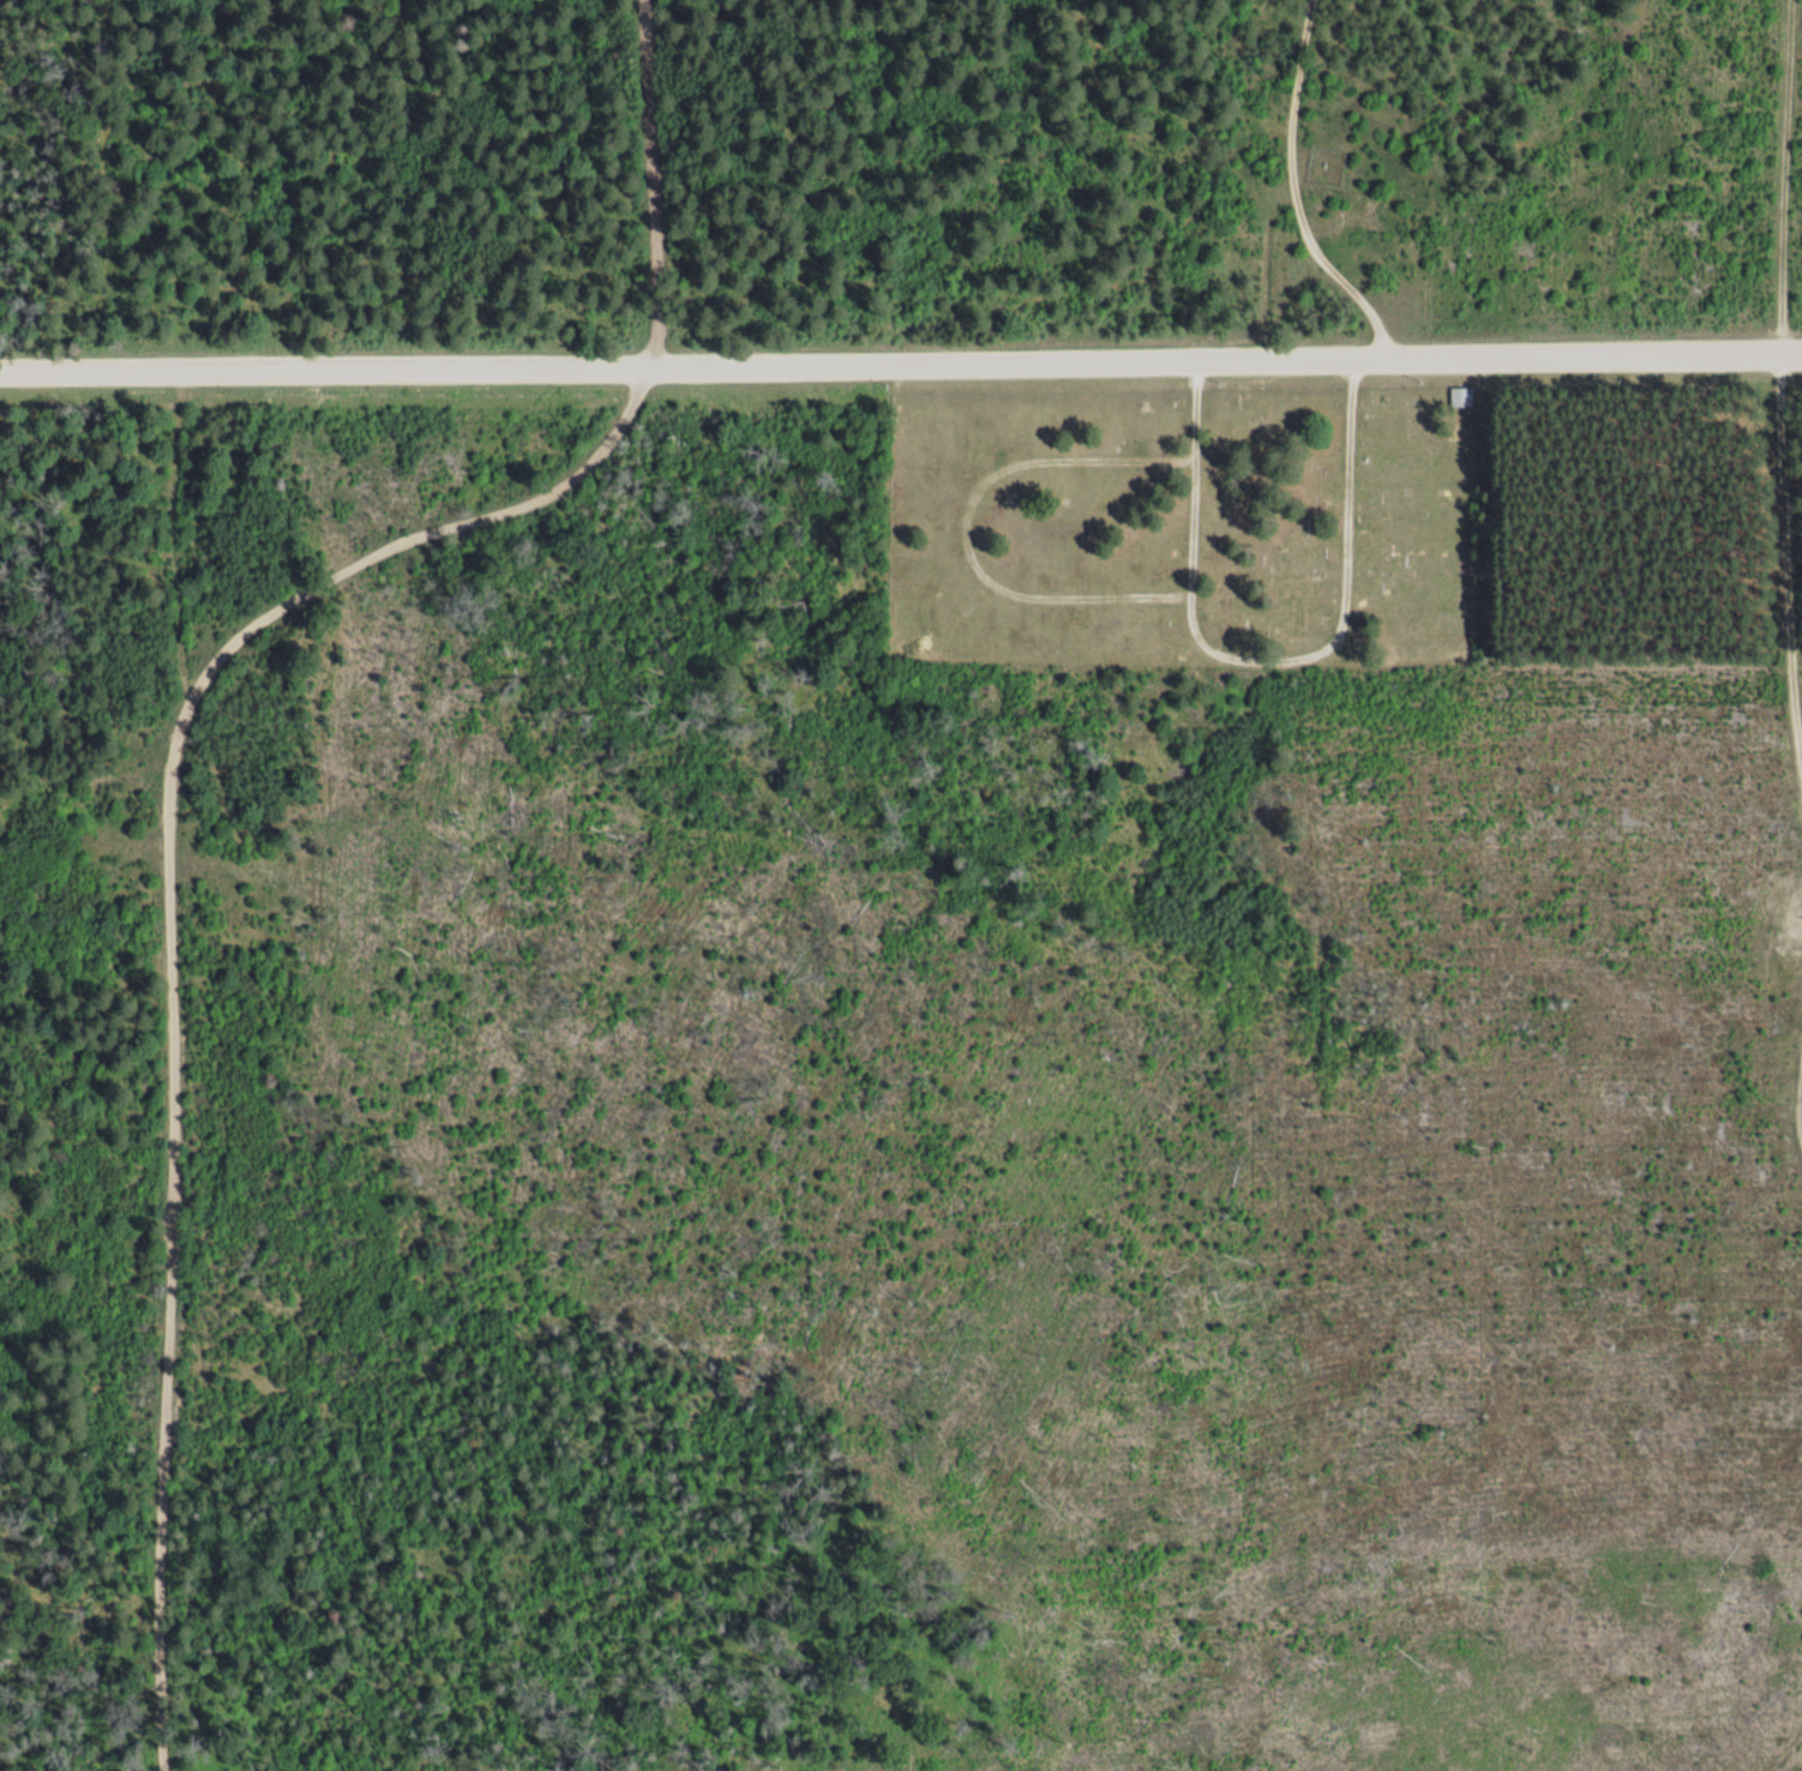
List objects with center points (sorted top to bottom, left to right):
road: (654, 187)
road: (1305, 194)
road: (901, 371)
road: (1779, 374)
building: (1460, 396)
park: (1184, 524)
road: (414, 540)
road: (174, 1070)

